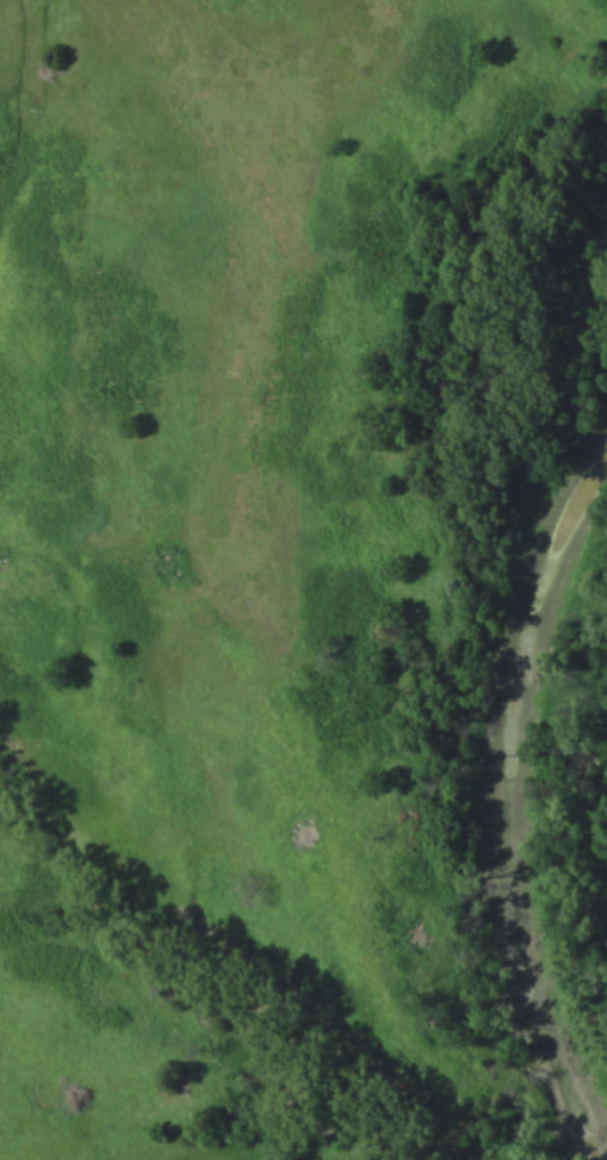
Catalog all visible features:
park: (303, 580)

